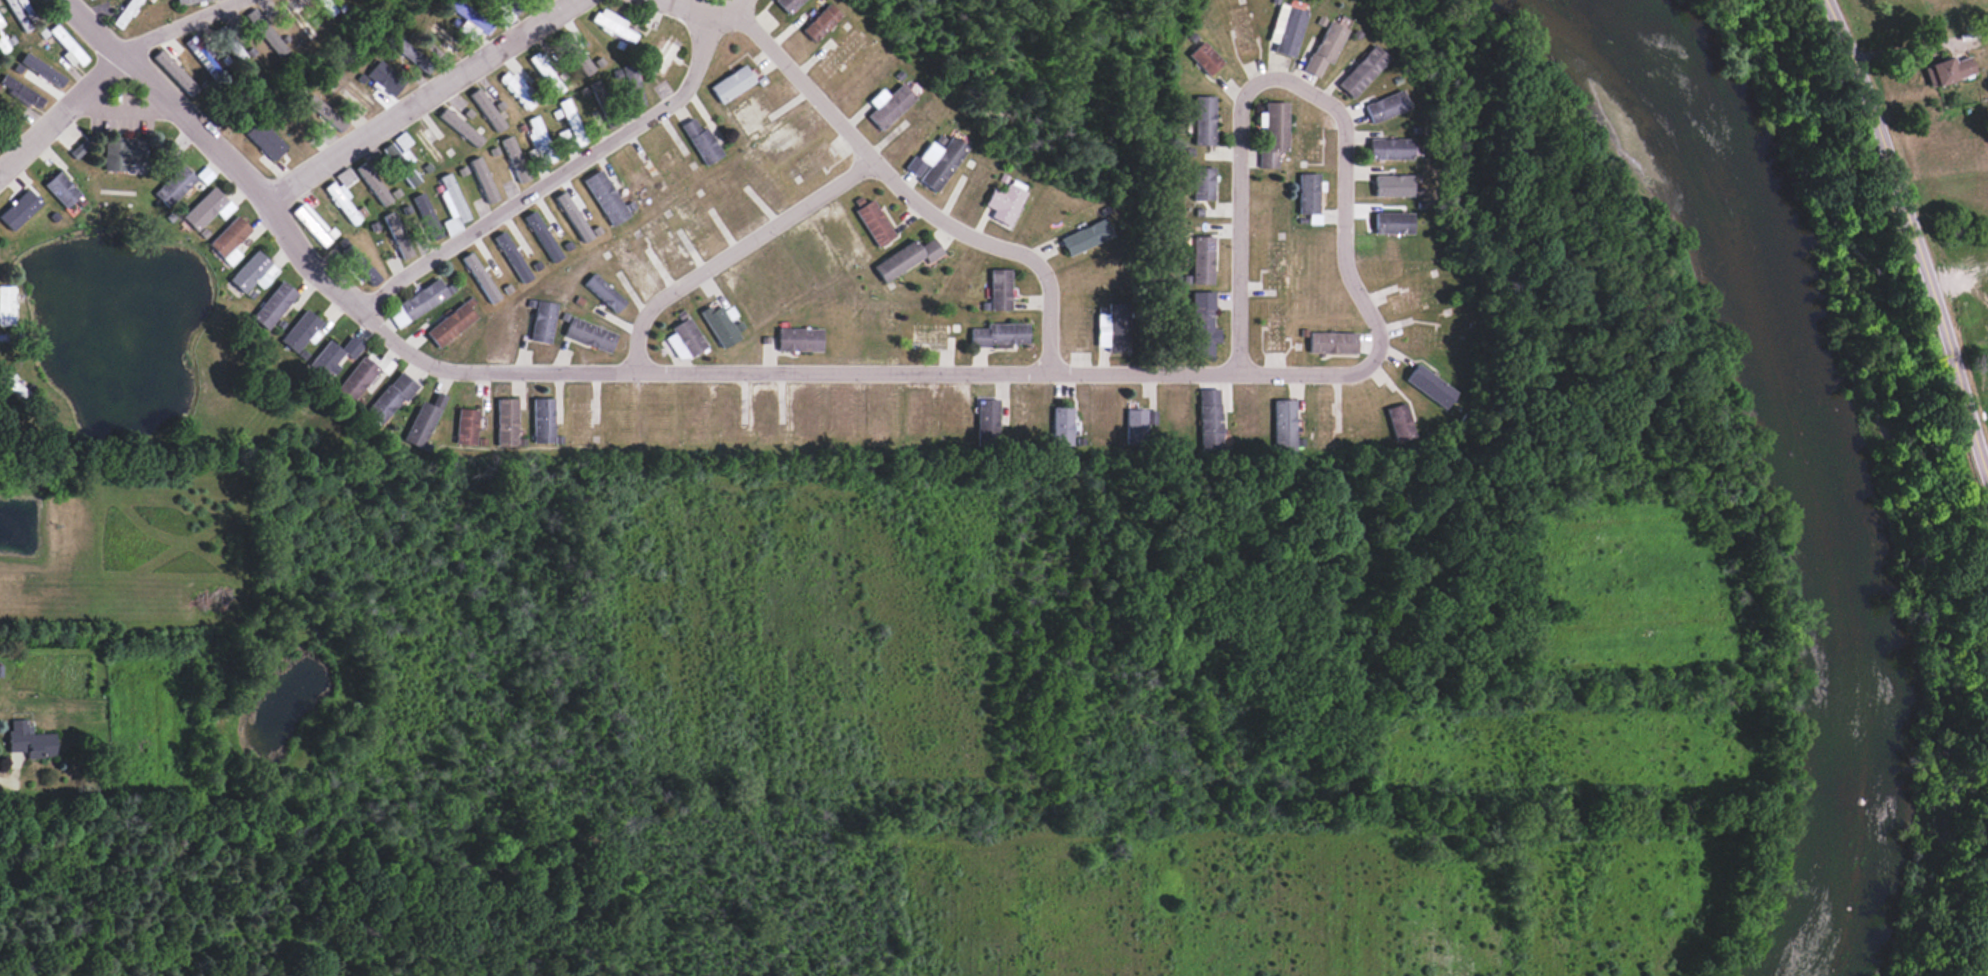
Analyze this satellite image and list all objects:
building: (186, 1)
road: (734, 4)
building: (787, 4)
building: (19, 12)
building: (464, 12)
building: (124, 13)
building: (300, 16)
building: (820, 22)
building: (0, 23)
building: (612, 24)
building: (1284, 29)
building: (264, 32)
building: (228, 42)
building: (67, 44)
building: (2, 45)
building: (1323, 47)
road: (1901, 47)
building: (410, 54)
building: (200, 56)
building: (1203, 58)
building: (581, 62)
road: (107, 64)
building: (1950, 69)
building: (42, 70)
building: (1361, 71)
building: (173, 72)
building: (545, 73)
building: (386, 78)
road: (1293, 82)
building: (513, 83)
building: (731, 84)
building: (632, 85)
building: (22, 92)
road: (418, 101)
building: (888, 105)
building: (1384, 106)
building: (487, 109)
building: (323, 111)
building: (570, 118)
building: (1202, 120)
building: (460, 127)
building: (1271, 132)
building: (564, 136)
building: (263, 139)
building: (538, 140)
building: (700, 141)
building: (1393, 148)
building: (398, 150)
building: (122, 152)
building: (514, 159)
building: (935, 162)
road: (564, 172)
building: (409, 176)
building: (344, 177)
building: (483, 179)
road: (891, 179)
building: (372, 183)
building: (1201, 183)
building: (173, 185)
building: (1392, 185)
building: (61, 189)
building: (1306, 193)
building: (605, 197)
building: (340, 200)
building: (1004, 202)
building: (452, 205)
building: (206, 208)
building: (19, 209)
building: (426, 216)
building: (874, 222)
building: (1392, 222)
building: (310, 223)
building: (396, 234)
building: (1085, 236)
road: (1912, 237)
building: (229, 239)
road: (734, 250)
building: (512, 256)
building: (906, 258)
building: (1201, 259)
building: (365, 270)
building: (252, 272)
building: (480, 277)
building: (1000, 289)
building: (605, 292)
building: (422, 299)
building: (6, 305)
building: (273, 305)
building: (543, 321)
building: (451, 323)
building: (720, 323)
building: (1202, 324)
building: (1114, 327)
building: (299, 330)
building: (589, 334)
building: (1000, 334)
building: (685, 338)
building: (798, 339)
building: (1331, 342)
building: (351, 346)
building: (326, 358)
road: (630, 368)
building: (360, 376)
building: (11, 384)
building: (1429, 386)
building: (390, 397)
building: (987, 419)
building: (1209, 419)
building: (543, 420)
building: (1398, 421)
building: (423, 422)
building: (507, 422)
building: (1138, 424)
building: (1283, 424)
building: (466, 426)
building: (1062, 426)
river: (1784, 463)
building: (29, 740)

